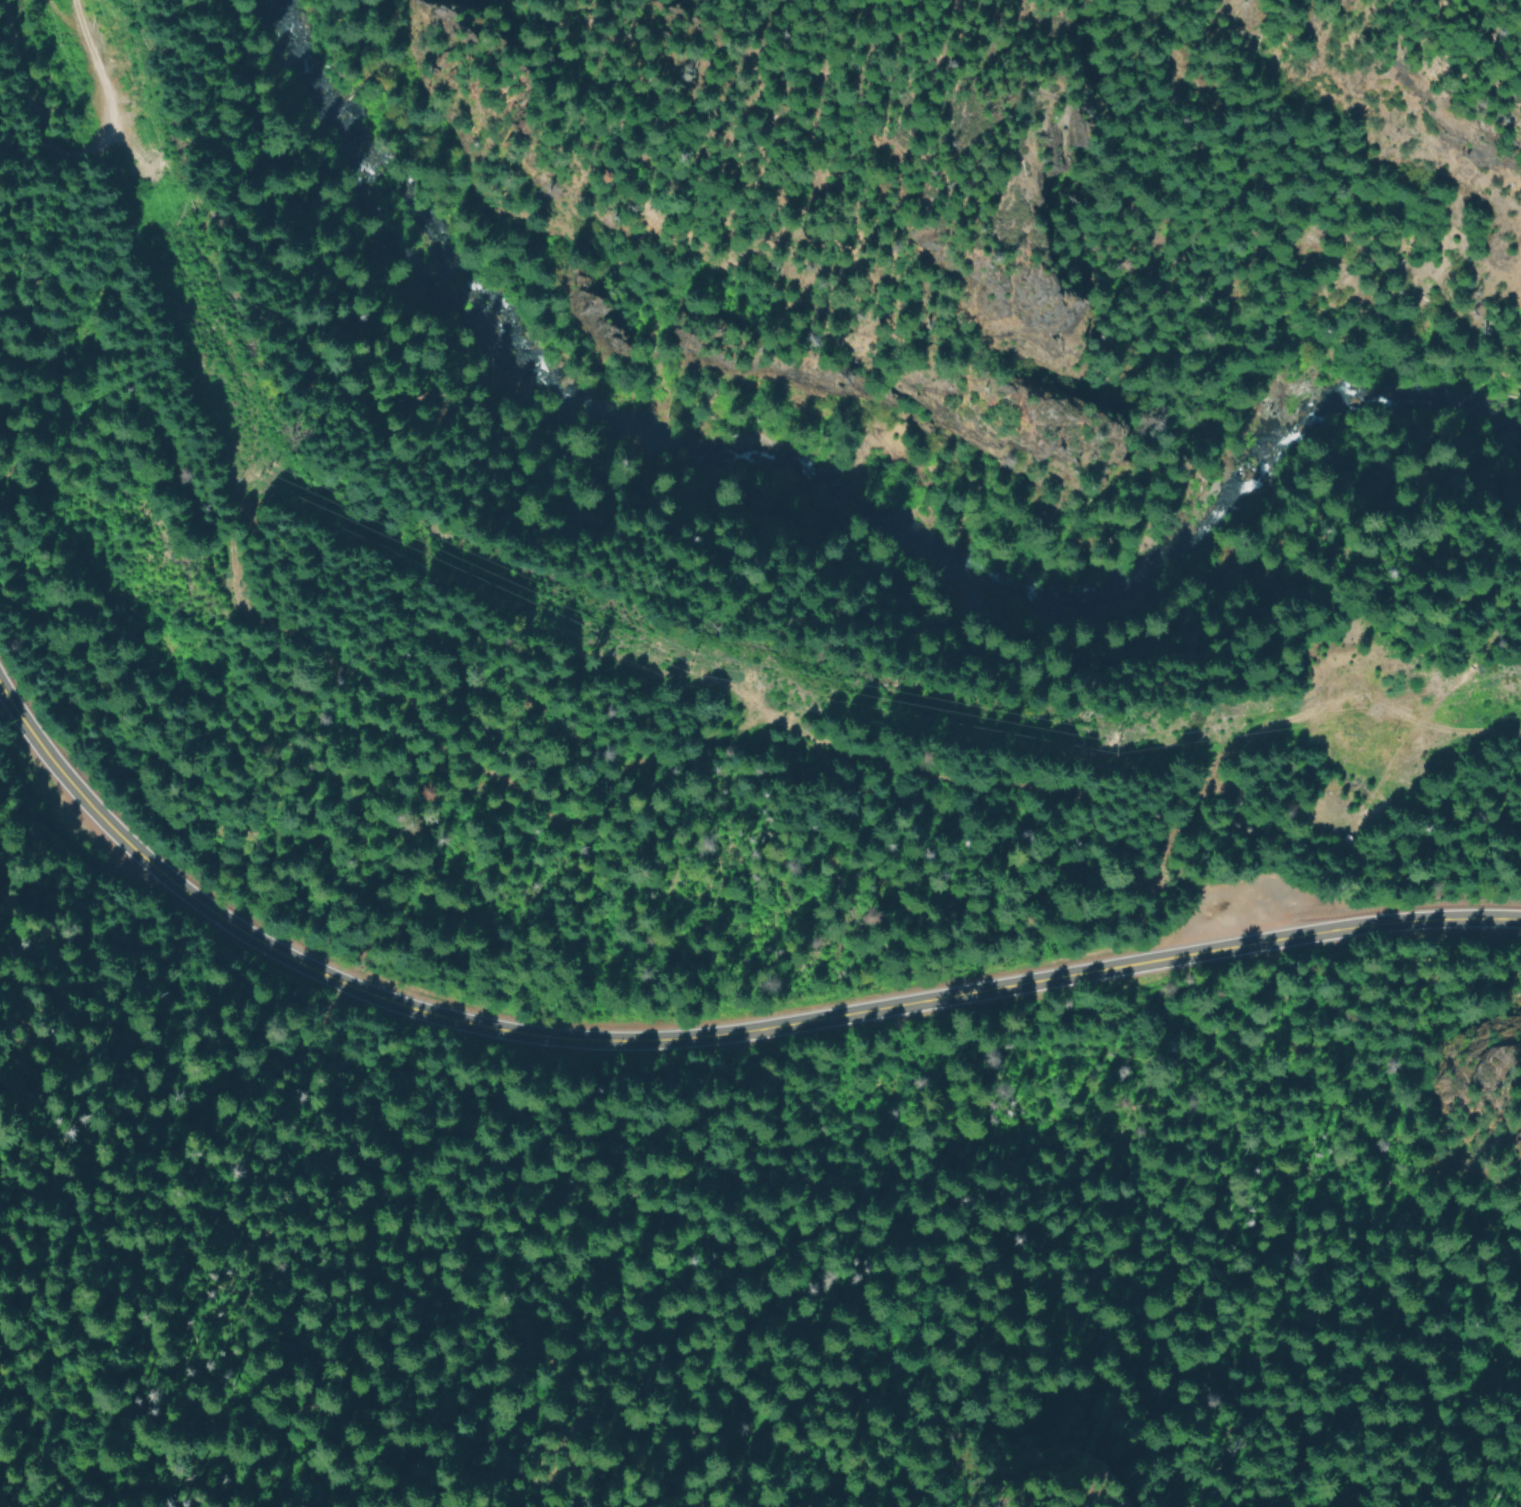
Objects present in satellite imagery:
road: (1508, 11)
river: (824, 529)
road: (708, 1037)

